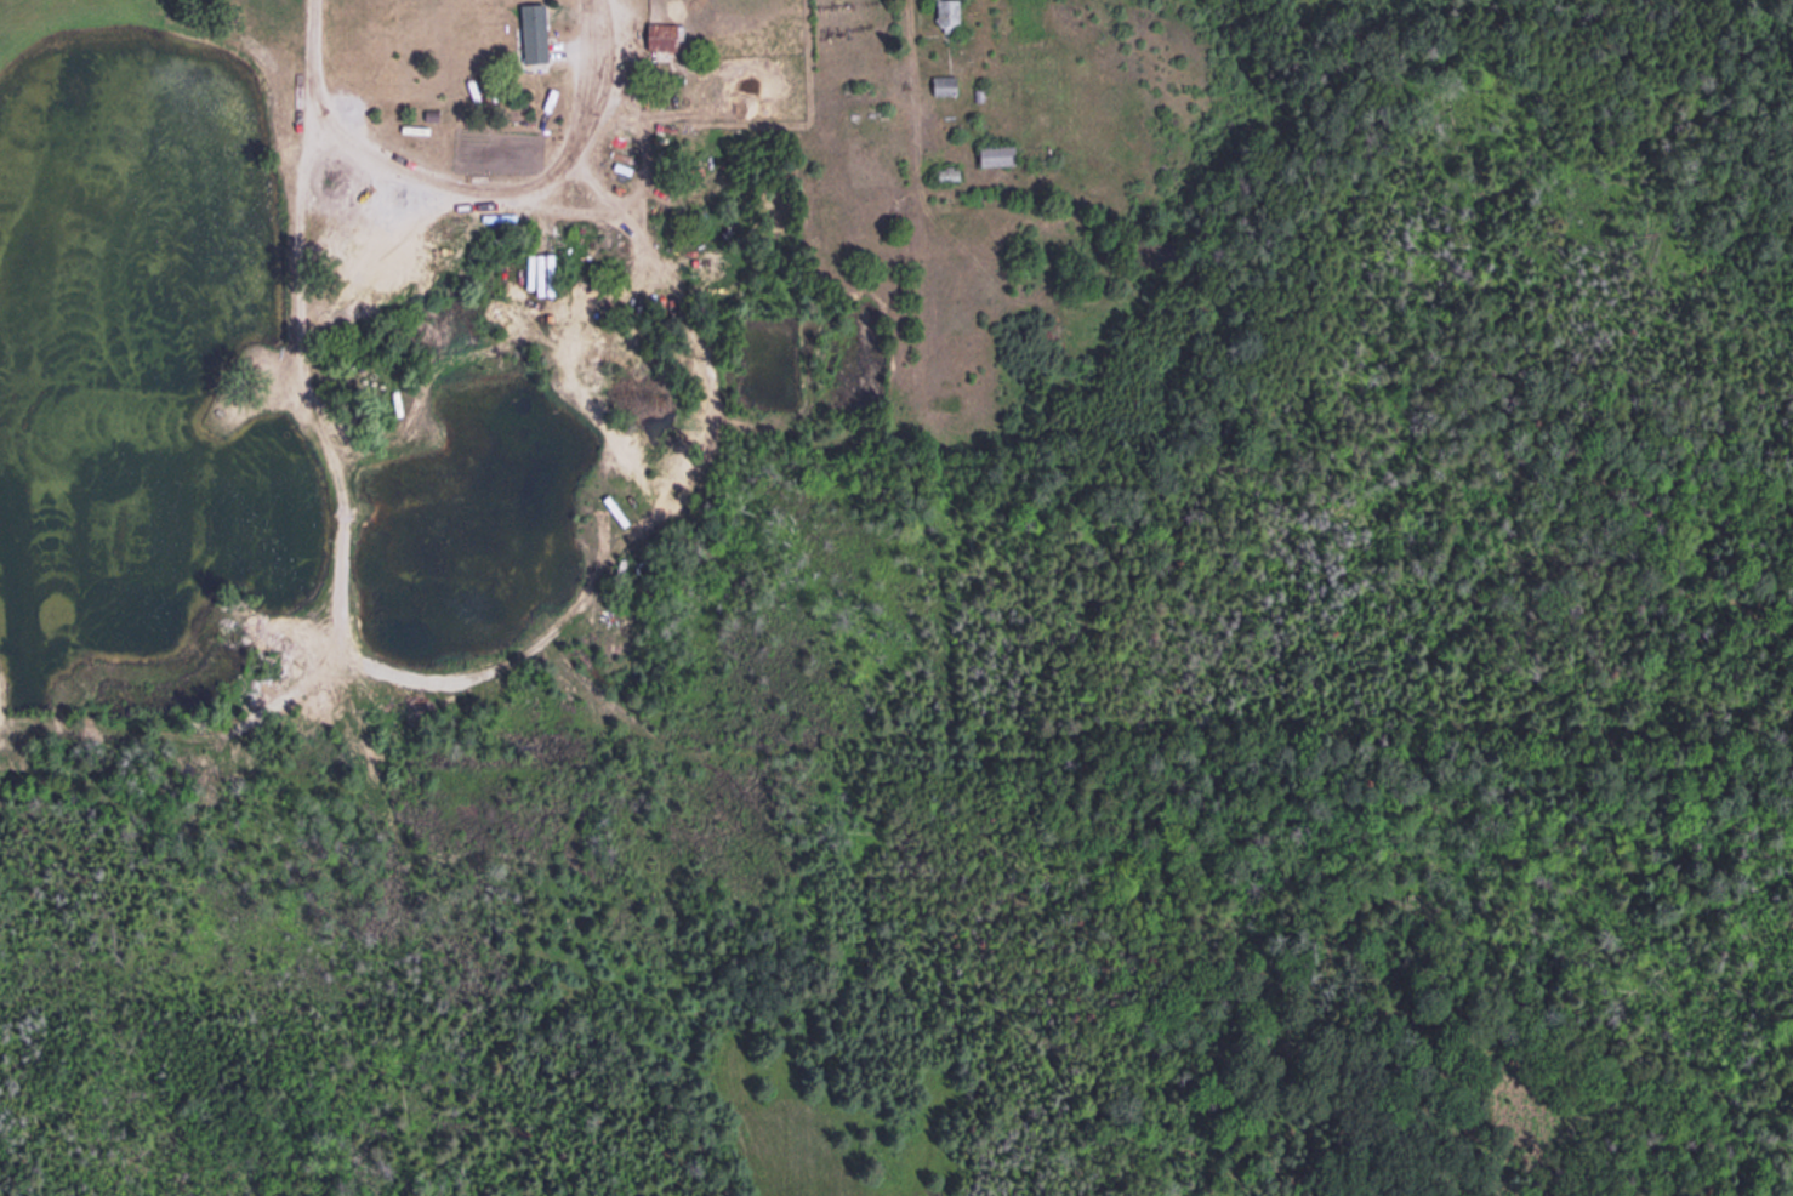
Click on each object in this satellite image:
building: (944, 11)
building: (537, 32)
building: (665, 39)
building: (943, 84)
building: (991, 154)
building: (545, 274)
building: (625, 571)

